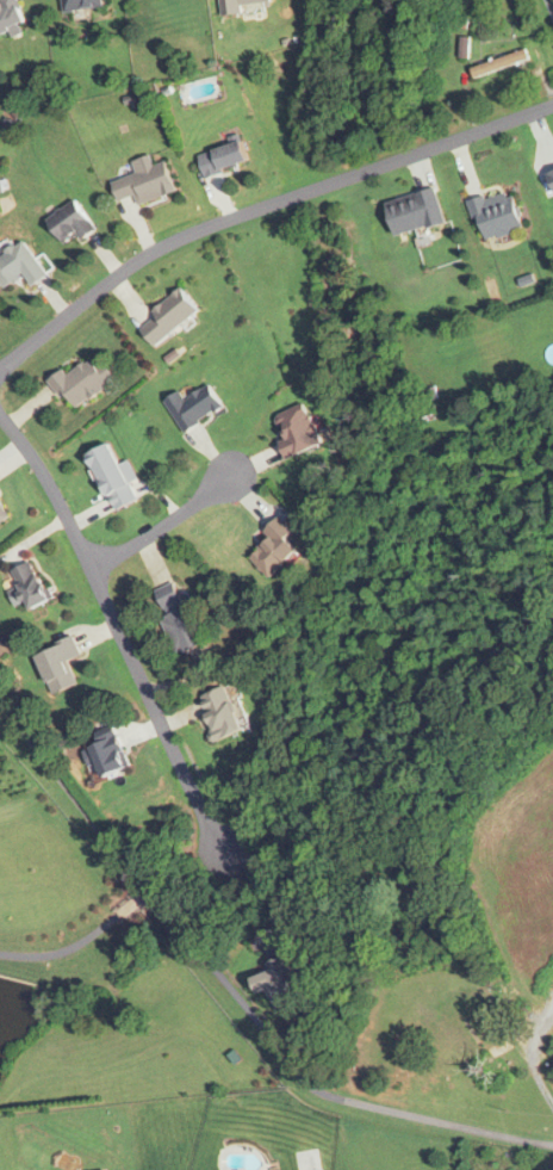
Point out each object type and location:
building: (79, 4)
building: (243, 4)
road: (549, 6)
building: (8, 16)
building: (498, 63)
building: (223, 157)
building: (145, 182)
road: (261, 209)
building: (414, 211)
building: (496, 213)
building: (72, 223)
building: (20, 266)
building: (167, 316)
building: (81, 382)
building: (194, 407)
building: (297, 428)
building: (114, 478)
building: (2, 516)
road: (173, 520)
building: (276, 547)
building: (29, 587)
building: (179, 619)
road: (123, 640)
building: (58, 666)
building: (219, 713)
building: (111, 757)
road: (79, 941)
building: (276, 984)
road: (231, 991)
building: (483, 1027)

